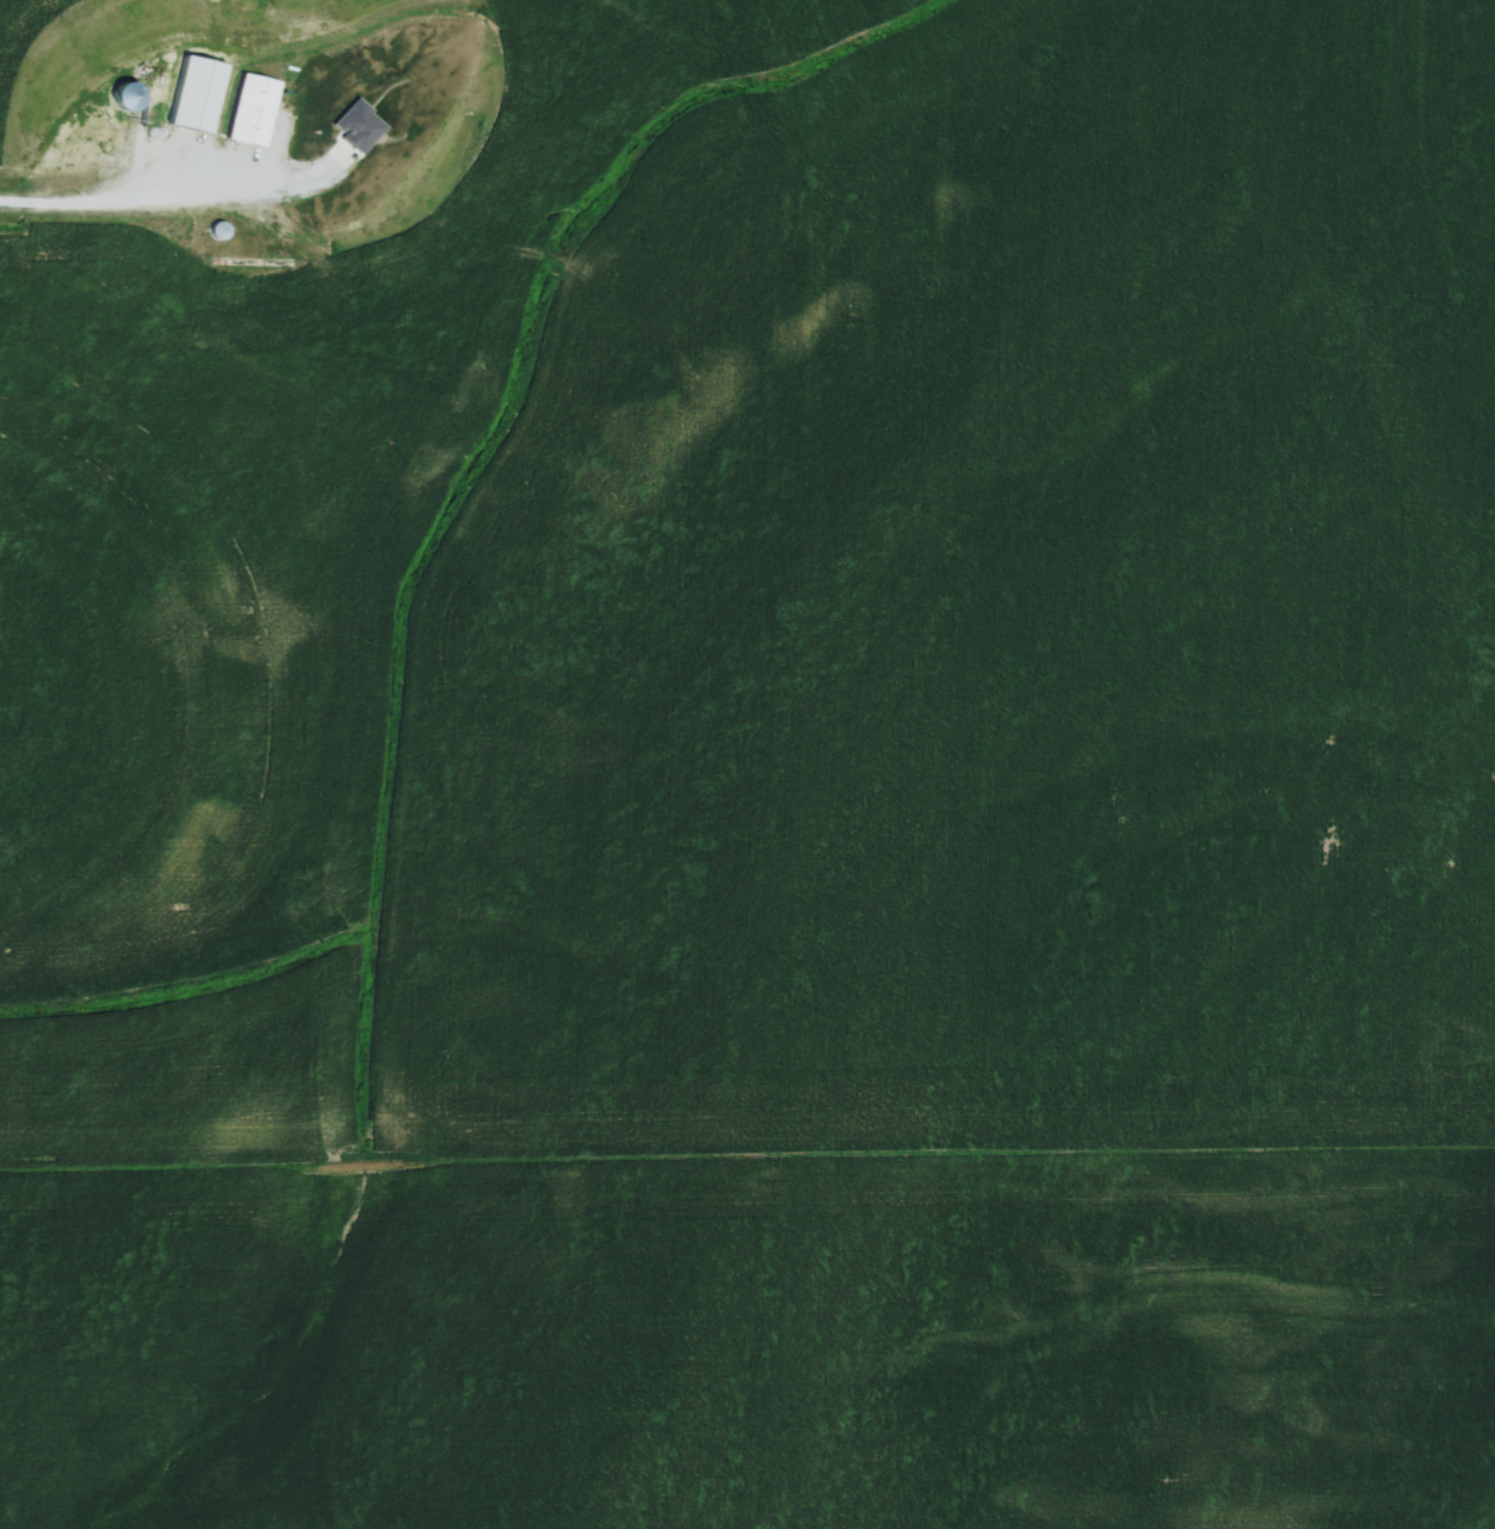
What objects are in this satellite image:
building: (252, 108)
building: (321, 152)
road: (120, 213)
building: (218, 229)

